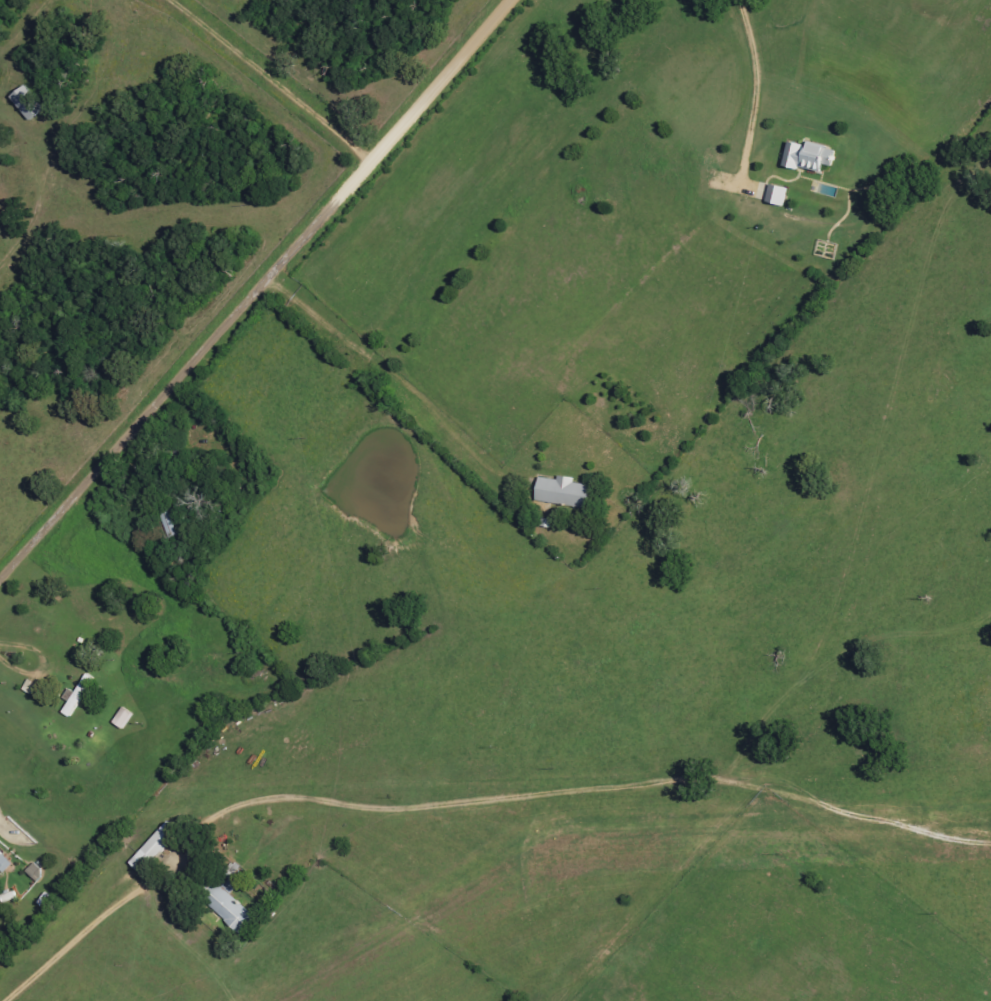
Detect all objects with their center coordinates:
park: (142, 0)
road: (242, 90)
building: (24, 103)
building: (805, 157)
building: (774, 196)
road: (260, 294)
building: (567, 493)
building: (79, 696)
building: (125, 718)
road: (2, 832)
building: (157, 848)
building: (5, 863)
building: (10, 897)
building: (233, 909)

